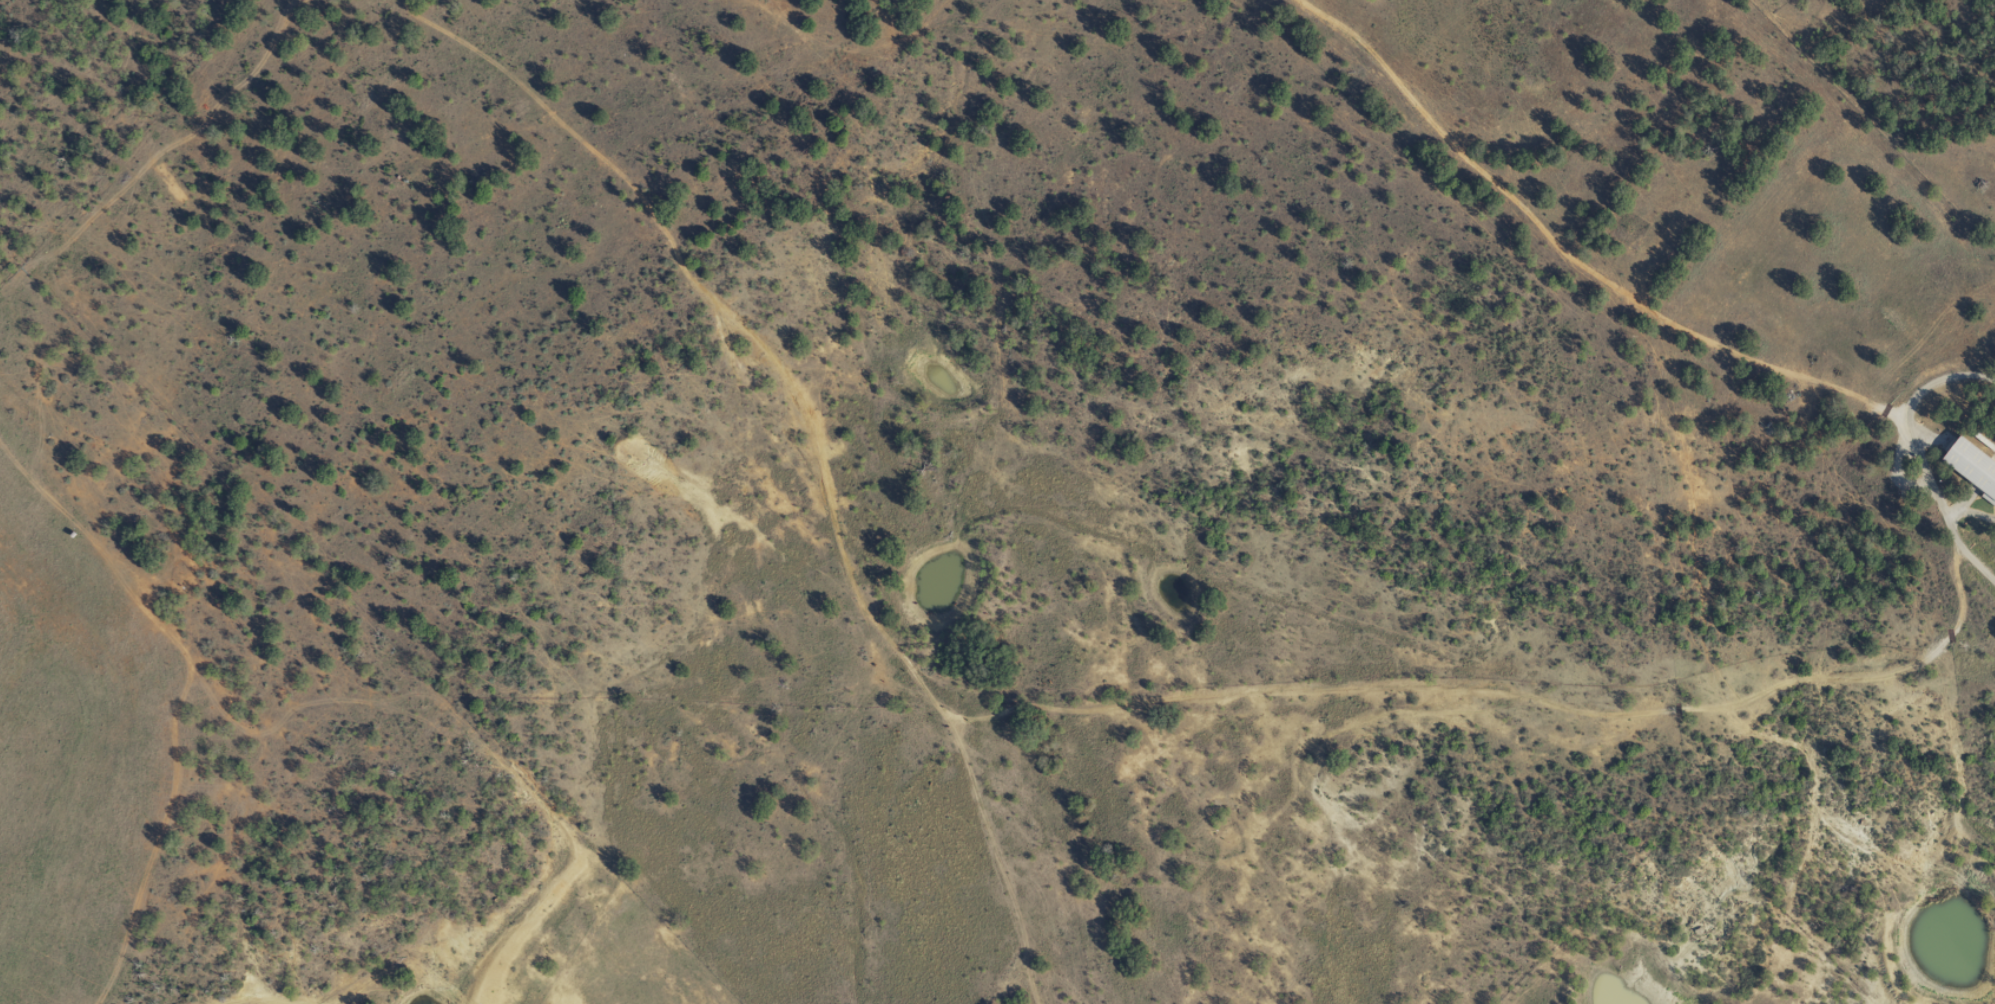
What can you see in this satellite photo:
building: (1969, 467)

